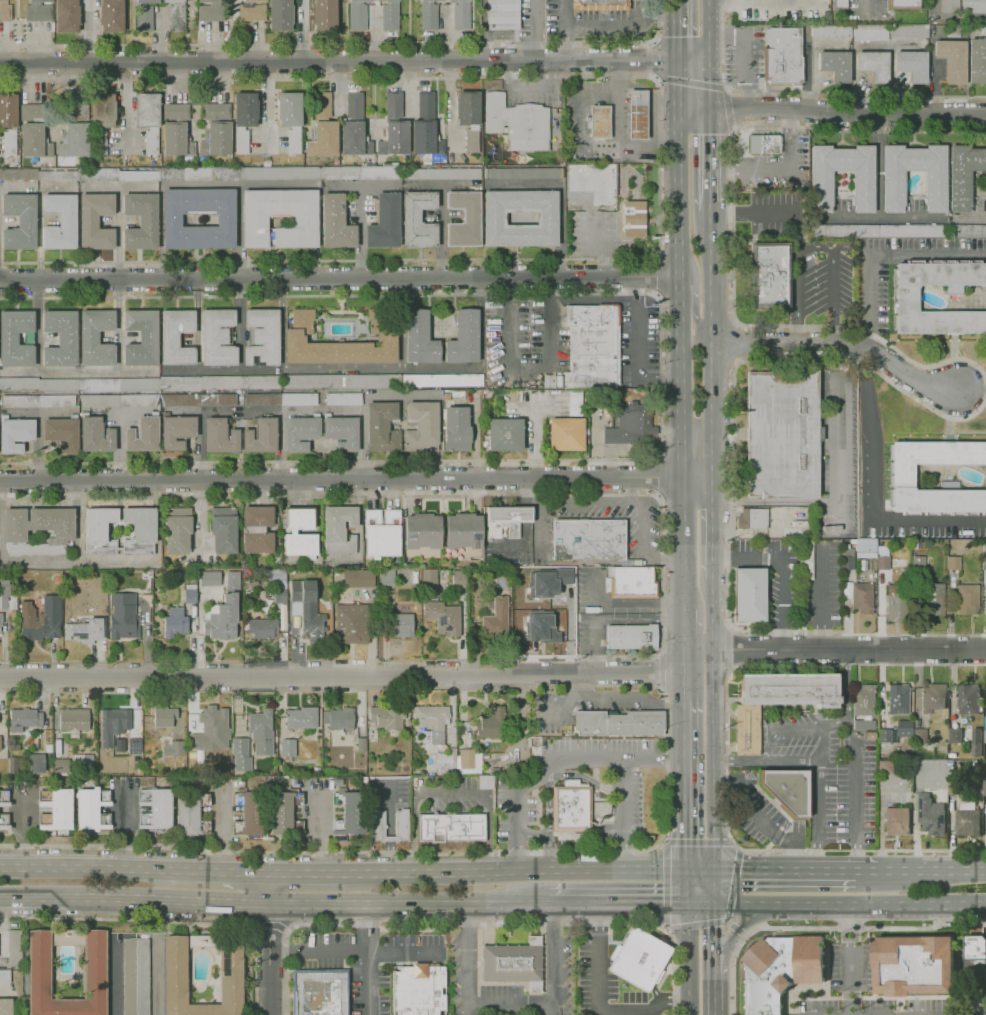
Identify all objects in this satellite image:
building: (449, 0)
building: (360, 1)
building: (387, 1)
road: (862, 1)
building: (251, 2)
building: (839, 4)
building: (601, 5)
building: (903, 5)
building: (963, 7)
building: (5, 11)
building: (38, 11)
building: (211, 11)
building: (252, 13)
building: (428, 14)
building: (111, 15)
building: (144, 15)
building: (176, 15)
building: (280, 15)
building: (325, 15)
building: (461, 15)
building: (503, 15)
building: (67, 16)
building: (357, 16)
building: (390, 16)
road: (625, 27)
road: (530, 29)
road: (680, 29)
road: (565, 30)
building: (983, 30)
building: (831, 32)
building: (909, 32)
building: (870, 33)
traffic signals: (680, 37)
road: (348, 44)
road: (712, 54)
building: (783, 56)
traffic signals: (652, 59)
road: (654, 59)
road: (340, 60)
building: (951, 60)
building: (977, 62)
building: (835, 65)
building: (874, 66)
building: (912, 66)
road: (696, 83)
road: (527, 90)
road: (811, 92)
building: (393, 105)
building: (323, 106)
building: (354, 106)
building: (426, 106)
road: (739, 108)
building: (246, 109)
traffic signals: (732, 109)
building: (148, 110)
building: (217, 111)
building: (33, 112)
building: (75, 112)
building: (176, 112)
road: (849, 113)
building: (637, 115)
building: (291, 118)
building: (102, 119)
building: (468, 119)
building: (599, 122)
building: (8, 123)
building: (516, 123)
road: (862, 132)
traffic signals: (713, 135)
building: (394, 138)
building: (425, 138)
building: (323, 139)
building: (354, 139)
building: (176, 140)
building: (216, 140)
building: (241, 140)
building: (34, 141)
building: (74, 141)
building: (151, 141)
building: (764, 144)
road: (713, 159)
road: (780, 163)
road: (659, 168)
building: (279, 173)
building: (361, 173)
building: (523, 173)
building: (37, 174)
building: (198, 174)
building: (439, 174)
building: (116, 175)
building: (963, 175)
building: (821, 188)
building: (893, 188)
road: (768, 214)
building: (418, 219)
building: (464, 219)
building: (494, 219)
building: (633, 219)
building: (225, 220)
building: (20, 221)
building: (96, 221)
building: (141, 221)
building: (60, 222)
building: (305, 223)
building: (336, 223)
building: (385, 223)
building: (844, 231)
building: (912, 231)
building: (967, 231)
road: (681, 269)
road: (655, 275)
building: (769, 275)
road: (340, 278)
road: (830, 278)
road: (797, 294)
building: (904, 298)
road: (696, 309)
road: (401, 322)
road: (772, 326)
building: (176, 337)
building: (217, 337)
building: (262, 337)
building: (59, 338)
building: (96, 338)
building: (141, 338)
building: (419, 338)
building: (464, 338)
building: (16, 339)
road: (843, 341)
building: (338, 342)
road: (712, 343)
building: (592, 346)
road: (636, 352)
road: (481, 361)
road: (298, 366)
road: (661, 376)
building: (443, 380)
building: (552, 380)
building: (341, 381)
building: (142, 383)
road: (868, 385)
road: (974, 390)
building: (459, 393)
building: (629, 393)
building: (446, 396)
building: (281, 399)
building: (344, 399)
building: (99, 400)
building: (138, 400)
building: (180, 400)
building: (218, 400)
building: (37, 401)
building: (575, 403)
road: (38, 411)
building: (631, 426)
building: (382, 427)
building: (421, 427)
building: (456, 429)
building: (176, 431)
building: (300, 432)
building: (341, 432)
building: (14, 434)
building: (62, 434)
building: (95, 434)
building: (143, 434)
building: (567, 434)
building: (505, 435)
building: (782, 435)
building: (220, 436)
building: (260, 436)
road: (38, 445)
building: (902, 473)
road: (837, 474)
road: (658, 476)
road: (356, 480)
road: (735, 484)
road: (631, 489)
road: (447, 495)
road: (524, 496)
road: (583, 500)
road: (736, 501)
building: (257, 516)
building: (299, 518)
building: (752, 518)
building: (506, 520)
road: (536, 526)
road: (712, 528)
building: (339, 529)
building: (95, 530)
building: (178, 530)
building: (224, 530)
building: (255, 530)
building: (15, 532)
building: (382, 533)
building: (792, 533)
building: (422, 536)
building: (463, 536)
building: (590, 538)
road: (646, 541)
building: (258, 543)
road: (685, 543)
building: (301, 545)
building: (865, 547)
building: (882, 557)
building: (803, 560)
building: (951, 561)
road: (784, 568)
building: (386, 576)
building: (456, 577)
building: (210, 578)
building: (357, 578)
building: (428, 578)
building: (633, 580)
building: (549, 581)
building: (279, 592)
building: (4, 594)
building: (751, 594)
building: (190, 596)
building: (860, 597)
road: (821, 598)
building: (931, 598)
building: (966, 599)
building: (53, 601)
road: (624, 602)
building: (892, 603)
building: (305, 607)
building: (226, 610)
road: (713, 613)
building: (124, 616)
building: (494, 616)
building: (443, 617)
building: (33, 619)
road: (665, 621)
building: (0, 622)
building: (175, 622)
road: (595, 622)
building: (349, 623)
building: (401, 625)
building: (541, 627)
building: (96, 628)
road: (684, 629)
building: (263, 630)
building: (75, 631)
building: (630, 636)
road: (699, 650)
road: (850, 650)
road: (868, 665)
road: (342, 676)
road: (684, 676)
road: (846, 685)
building: (790, 689)
building: (931, 696)
road: (620, 697)
building: (897, 698)
building: (967, 698)
building: (863, 706)
road: (557, 712)
building: (163, 716)
building: (300, 717)
building: (337, 717)
building: (385, 717)
building: (23, 719)
building: (73, 720)
building: (430, 721)
building: (617, 723)
road: (833, 723)
building: (112, 724)
building: (490, 724)
road: (786, 727)
building: (902, 727)
building: (210, 729)
building: (748, 729)
building: (260, 732)
building: (883, 734)
building: (954, 734)
road: (684, 735)
building: (984, 735)
building: (975, 741)
building: (134, 745)
road: (823, 745)
building: (0, 746)
building: (286, 747)
building: (172, 748)
building: (240, 753)
road: (764, 756)
road: (618, 758)
building: (445, 761)
building: (469, 761)
road: (715, 761)
building: (35, 763)
building: (59, 765)
road: (817, 766)
road: (533, 774)
road: (557, 774)
building: (984, 787)
building: (786, 789)
road: (451, 793)
road: (856, 793)
building: (3, 797)
building: (574, 806)
building: (55, 808)
building: (154, 808)
building: (91, 809)
building: (250, 813)
building: (280, 813)
building: (347, 813)
road: (621, 814)
building: (929, 814)
building: (186, 816)
building: (966, 817)
building: (3, 821)
road: (686, 821)
road: (760, 821)
building: (896, 821)
building: (400, 822)
road: (388, 827)
building: (452, 827)
road: (516, 830)
road: (413, 833)
road: (488, 833)
road: (532, 836)
road: (318, 837)
traffic signals: (687, 839)
road: (548, 853)
road: (98, 868)
road: (529, 870)
traffic signals: (738, 872)
road: (797, 872)
road: (932, 872)
road: (232, 873)
road: (306, 874)
road: (268, 889)
road: (688, 889)
road: (715, 889)
road: (134, 898)
road: (408, 905)
road: (575, 906)
road: (645, 906)
traffic signals: (668, 906)
road: (701, 906)
traffic signals: (715, 906)
road: (850, 908)
road: (714, 927)
road: (735, 933)
building: (13, 947)
building: (975, 947)
road: (354, 950)
building: (638, 958)
road: (269, 959)
road: (369, 959)
road: (466, 960)
road: (554, 960)
road: (688, 960)
road: (713, 960)
road: (848, 961)
building: (38, 963)
building: (513, 963)
building: (913, 965)
building: (777, 972)
building: (173, 974)
building: (3, 975)
building: (134, 976)
building: (417, 990)
building: (318, 992)
road: (712, 993)
road: (511, 1002)
building: (5, 1006)
road: (598, 1006)

